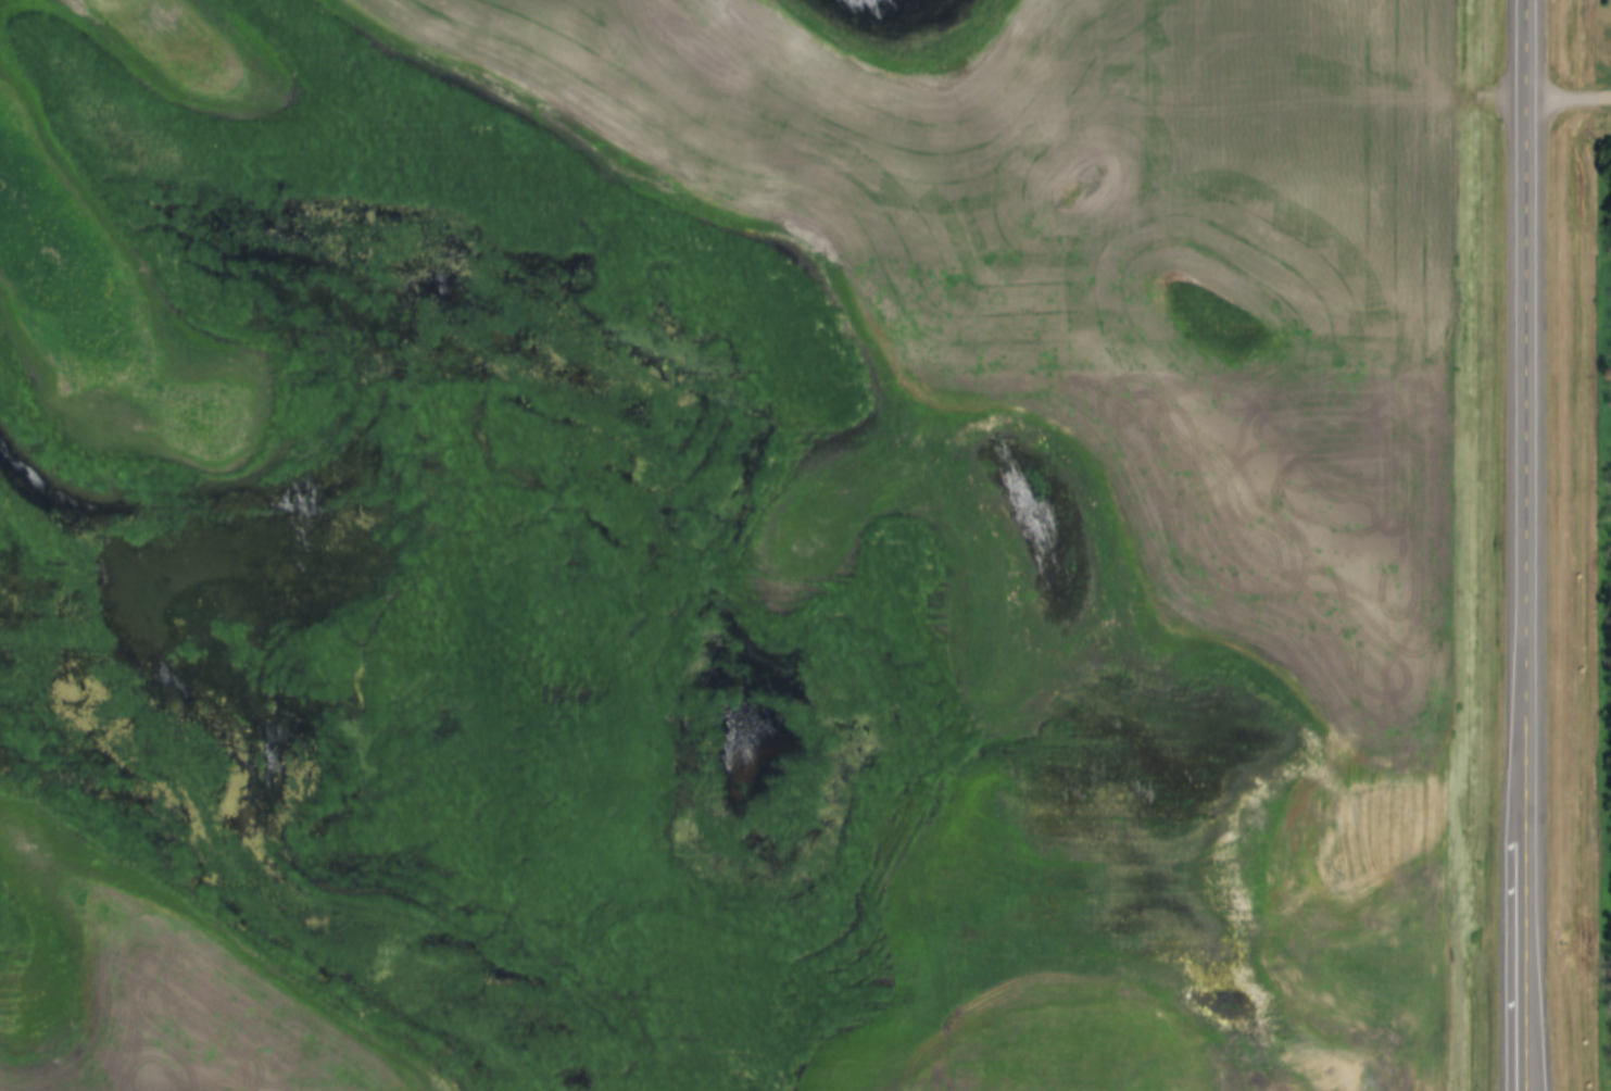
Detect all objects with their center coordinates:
road: (1574, 98)
road: (1538, 545)

